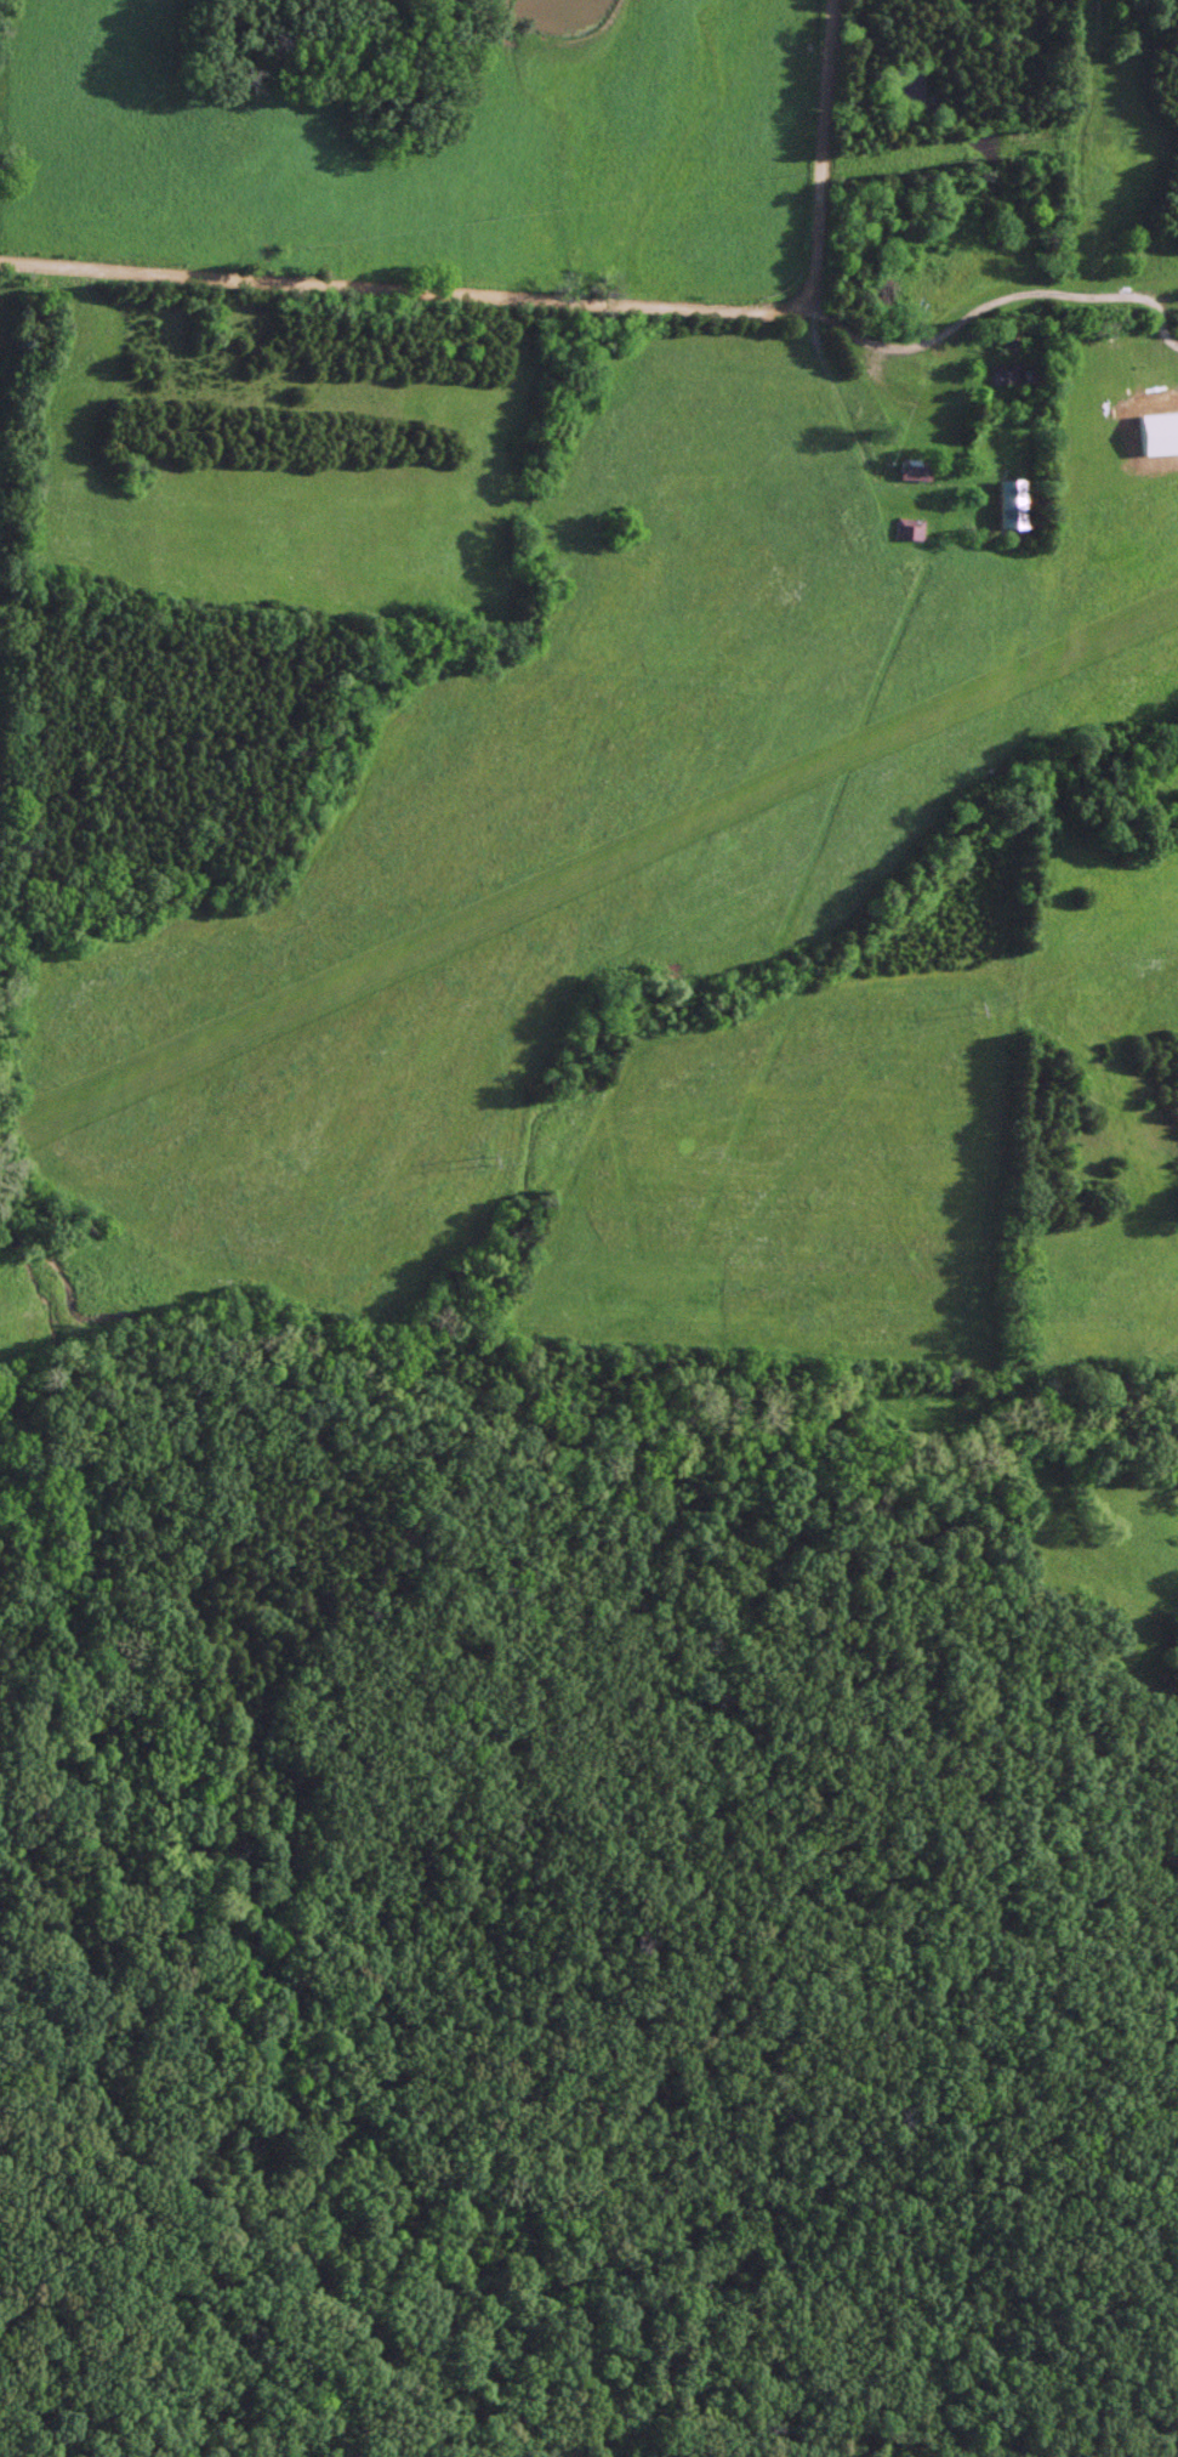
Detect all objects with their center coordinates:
road: (563, 305)
building: (1012, 375)
building: (916, 472)
building: (909, 528)
power tower: (967, 998)
power tower: (477, 1153)

